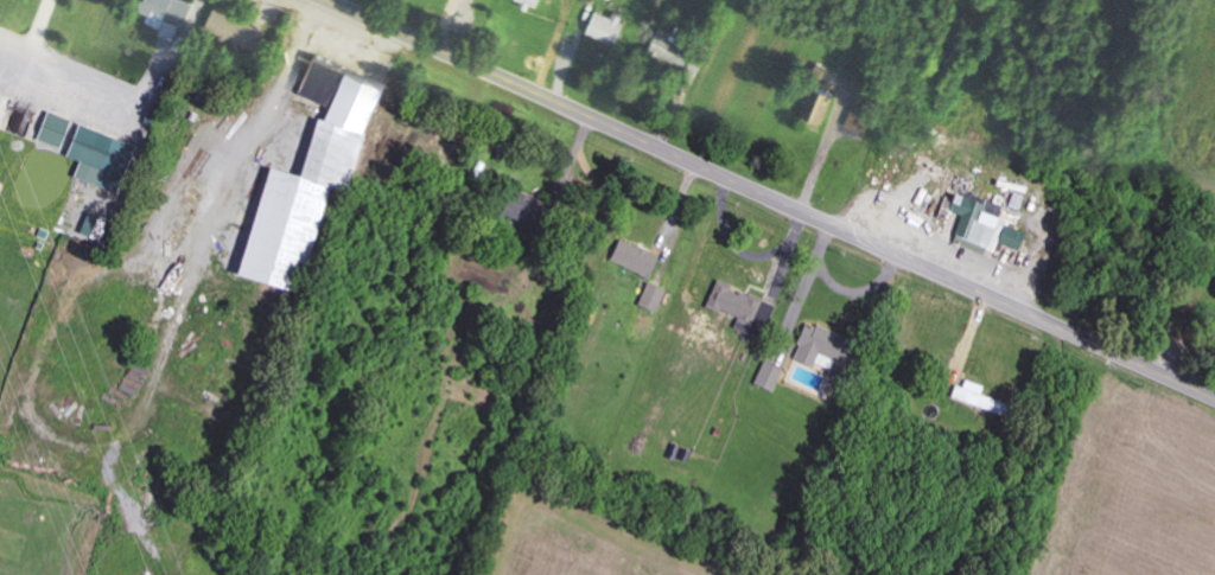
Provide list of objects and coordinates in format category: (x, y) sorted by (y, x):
building: (529, 2)
building: (166, 11)
building: (71, 13)
building: (605, 27)
building: (236, 31)
building: (679, 50)
building: (818, 106)
building: (863, 110)
building: (95, 156)
building: (312, 179)
road: (776, 194)
building: (528, 212)
building: (986, 224)
building: (635, 258)
building: (651, 298)
building: (739, 308)
building: (825, 352)
building: (980, 401)

